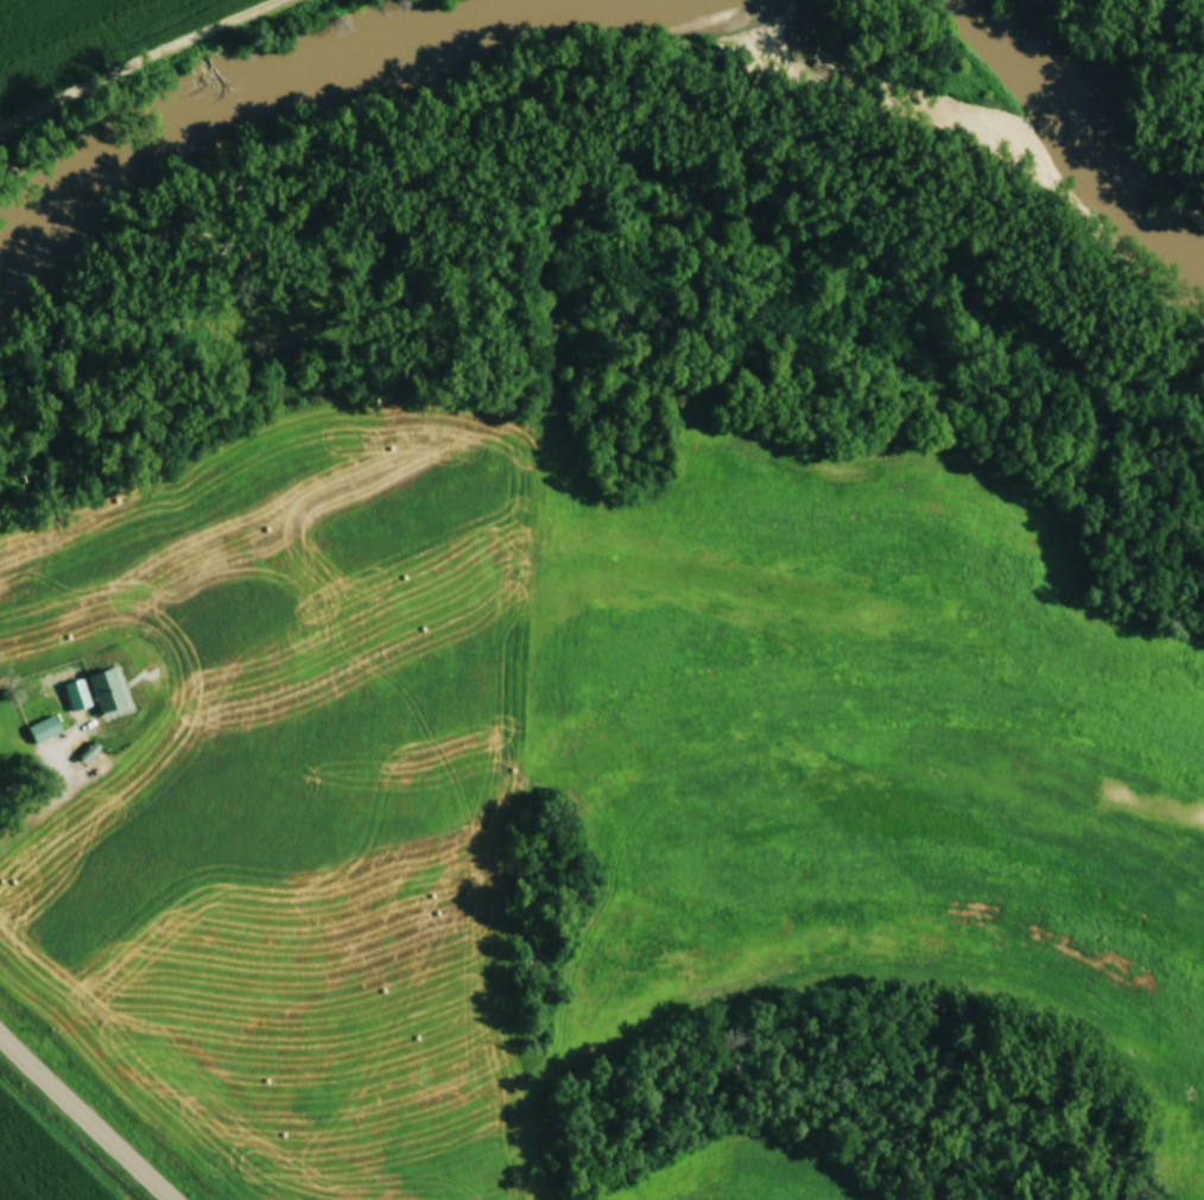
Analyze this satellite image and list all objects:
river: (1081, 100)
river: (229, 127)
building: (4, 757)
road: (84, 1118)

